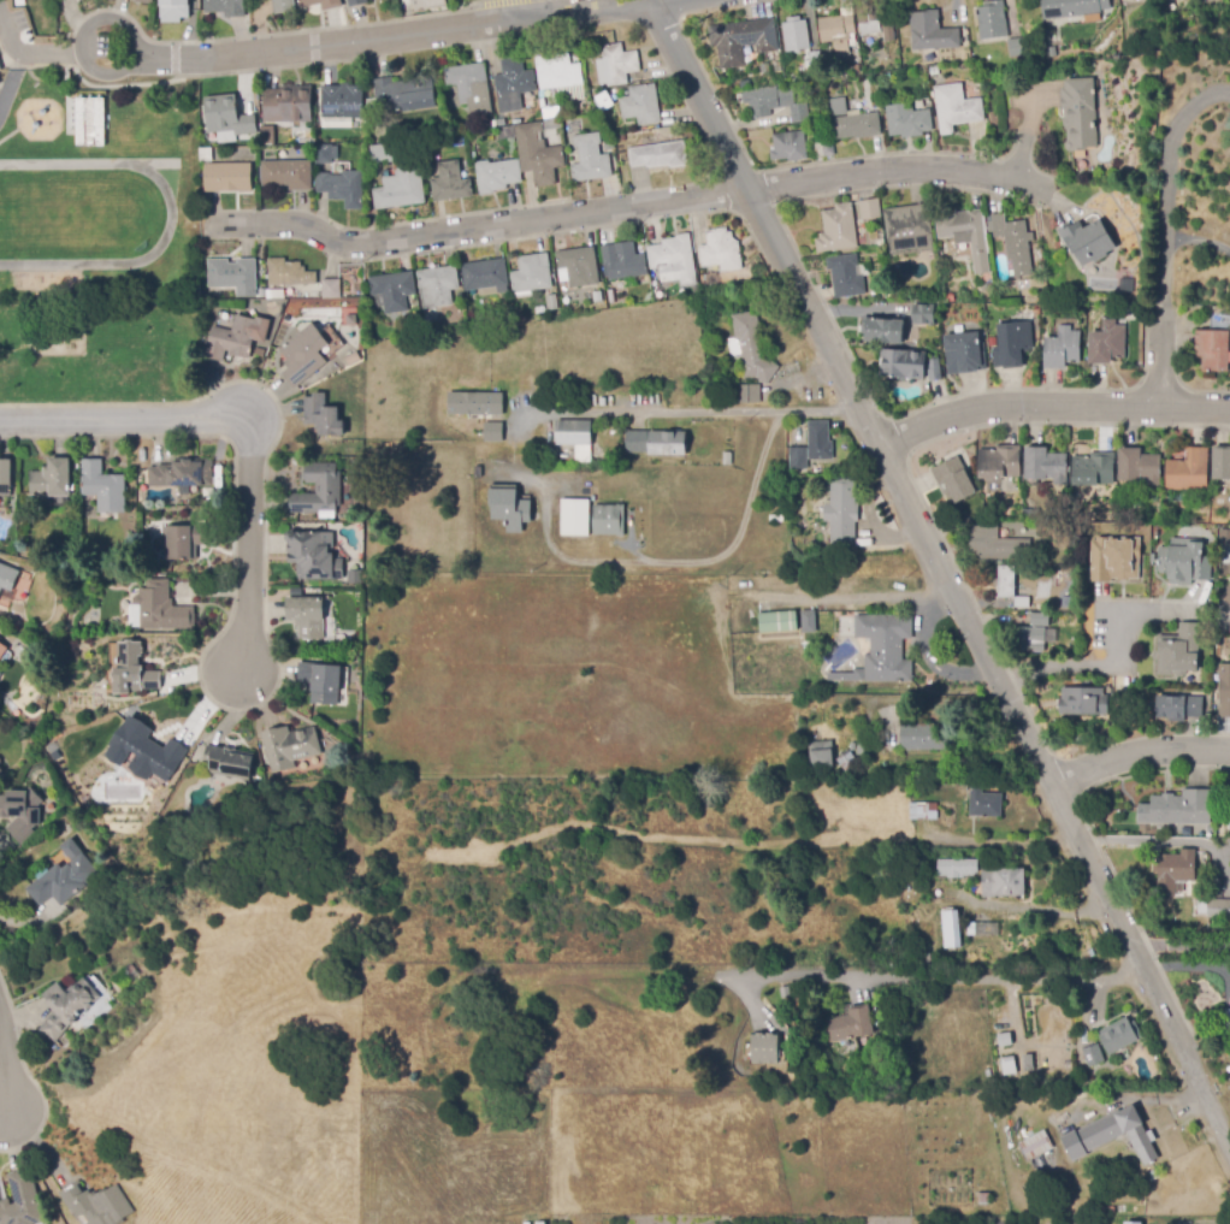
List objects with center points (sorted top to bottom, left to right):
building: (144, 1)
building: (1151, 1)
building: (356, 2)
building: (404, 2)
road: (496, 2)
road: (667, 2)
building: (321, 4)
building: (225, 7)
building: (283, 7)
building: (1071, 7)
road: (509, 8)
building: (173, 11)
road: (583, 12)
building: (868, 13)
building: (992, 20)
building: (836, 31)
road: (277, 32)
building: (888, 32)
building: (932, 32)
building: (796, 35)
building: (743, 40)
road: (323, 43)
road: (313, 46)
building: (1017, 47)
road: (30, 52)
building: (904, 53)
road: (175, 59)
building: (811, 61)
building: (619, 64)
road: (126, 66)
building: (855, 69)
building: (557, 70)
building: (935, 71)
building: (816, 76)
building: (888, 79)
road: (149, 82)
building: (513, 84)
building: (471, 89)
building: (404, 95)
building: (342, 102)
building: (371, 104)
building: (776, 104)
building: (288, 105)
building: (641, 106)
building: (839, 107)
building: (956, 107)
building: (549, 113)
building: (1080, 114)
building: (227, 117)
building: (907, 122)
building: (89, 123)
building: (611, 123)
building: (490, 125)
building: (551, 125)
building: (857, 126)
building: (267, 136)
building: (507, 137)
building: (620, 137)
building: (608, 144)
building: (790, 147)
building: (828, 147)
building: (335, 153)
building: (323, 154)
building: (378, 154)
building: (205, 155)
building: (538, 155)
building: (658, 155)
building: (591, 164)
building: (286, 175)
building: (496, 176)
building: (227, 177)
building: (450, 183)
building: (343, 185)
building: (401, 189)
road: (626, 206)
building: (869, 209)
road: (170, 215)
building: (838, 229)
building: (909, 229)
road: (1166, 232)
building: (966, 235)
building: (1012, 236)
road: (1199, 240)
building: (1088, 241)
building: (880, 244)
building: (721, 250)
building: (674, 260)
building: (625, 261)
building: (579, 266)
building: (289, 273)
building: (233, 276)
building: (485, 276)
building: (530, 276)
building: (845, 277)
building: (1124, 283)
building: (1031, 284)
building: (438, 285)
building: (331, 289)
building: (394, 290)
building: (203, 292)
building: (277, 295)
building: (940, 295)
building: (225, 296)
building: (610, 296)
building: (597, 298)
building: (551, 302)
building: (919, 312)
building: (301, 329)
building: (882, 330)
building: (237, 338)
building: (909, 338)
building: (992, 342)
building: (1107, 343)
building: (1012, 344)
building: (752, 348)
building: (1062, 349)
building: (1212, 350)
building: (259, 351)
park: (96, 353)
building: (964, 354)
building: (303, 355)
building: (353, 359)
building: (903, 365)
building: (934, 369)
building: (556, 388)
building: (746, 394)
building: (474, 402)
road: (1051, 408)
road: (702, 410)
building: (323, 416)
road: (46, 420)
building: (493, 431)
building: (573, 432)
building: (820, 440)
building: (656, 443)
building: (777, 454)
building: (727, 459)
building: (798, 459)
building: (999, 462)
road: (252, 463)
building: (1222, 463)
building: (1045, 466)
building: (1139, 467)
building: (1094, 471)
building: (1188, 471)
building: (478, 472)
building: (182, 473)
building: (218, 473)
building: (5, 478)
building: (52, 479)
building: (954, 479)
building: (102, 486)
building: (319, 490)
building: (779, 492)
building: (509, 508)
building: (841, 513)
building: (327, 516)
building: (776, 519)
building: (575, 520)
building: (609, 520)
building: (1223, 537)
building: (183, 542)
building: (997, 545)
building: (24, 550)
building: (313, 555)
building: (1116, 557)
building: (6, 558)
building: (1184, 561)
road: (687, 562)
road: (942, 569)
building: (7, 578)
building: (354, 578)
building: (1010, 587)
building: (1226, 595)
building: (161, 608)
building: (307, 617)
building: (810, 620)
building: (1039, 620)
building: (779, 621)
building: (833, 623)
building: (1028, 639)
building: (886, 648)
road: (1113, 650)
building: (1181, 650)
building: (2, 651)
road: (1016, 663)
building: (132, 670)
building: (846, 676)
road: (1024, 679)
building: (321, 682)
building: (1224, 691)
building: (1083, 702)
building: (1179, 706)
building: (923, 737)
building: (290, 747)
building: (863, 747)
building: (144, 751)
road: (1137, 753)
building: (821, 755)
building: (0, 761)
building: (846, 761)
building: (229, 763)
building: (0, 770)
building: (988, 804)
building: (1178, 809)
building: (928, 811)
building: (22, 812)
building: (957, 868)
building: (1175, 870)
building: (64, 877)
building: (1003, 882)
building: (1218, 909)
building: (980, 928)
building: (951, 929)
building: (132, 972)
road: (948, 980)
building: (785, 993)
building: (67, 1007)
building: (1226, 1018)
building: (850, 1024)
building: (1119, 1035)
building: (1005, 1039)
building: (764, 1048)
building: (1093, 1056)
road: (6, 1060)
building: (1028, 1063)
building: (1009, 1066)
building: (574, 1076)
building: (1111, 1136)
building: (1035, 1145)
building: (22, 1201)
building: (97, 1204)
building: (1179, 1220)
building: (1001, 1223)
building: (1133, 1223)

